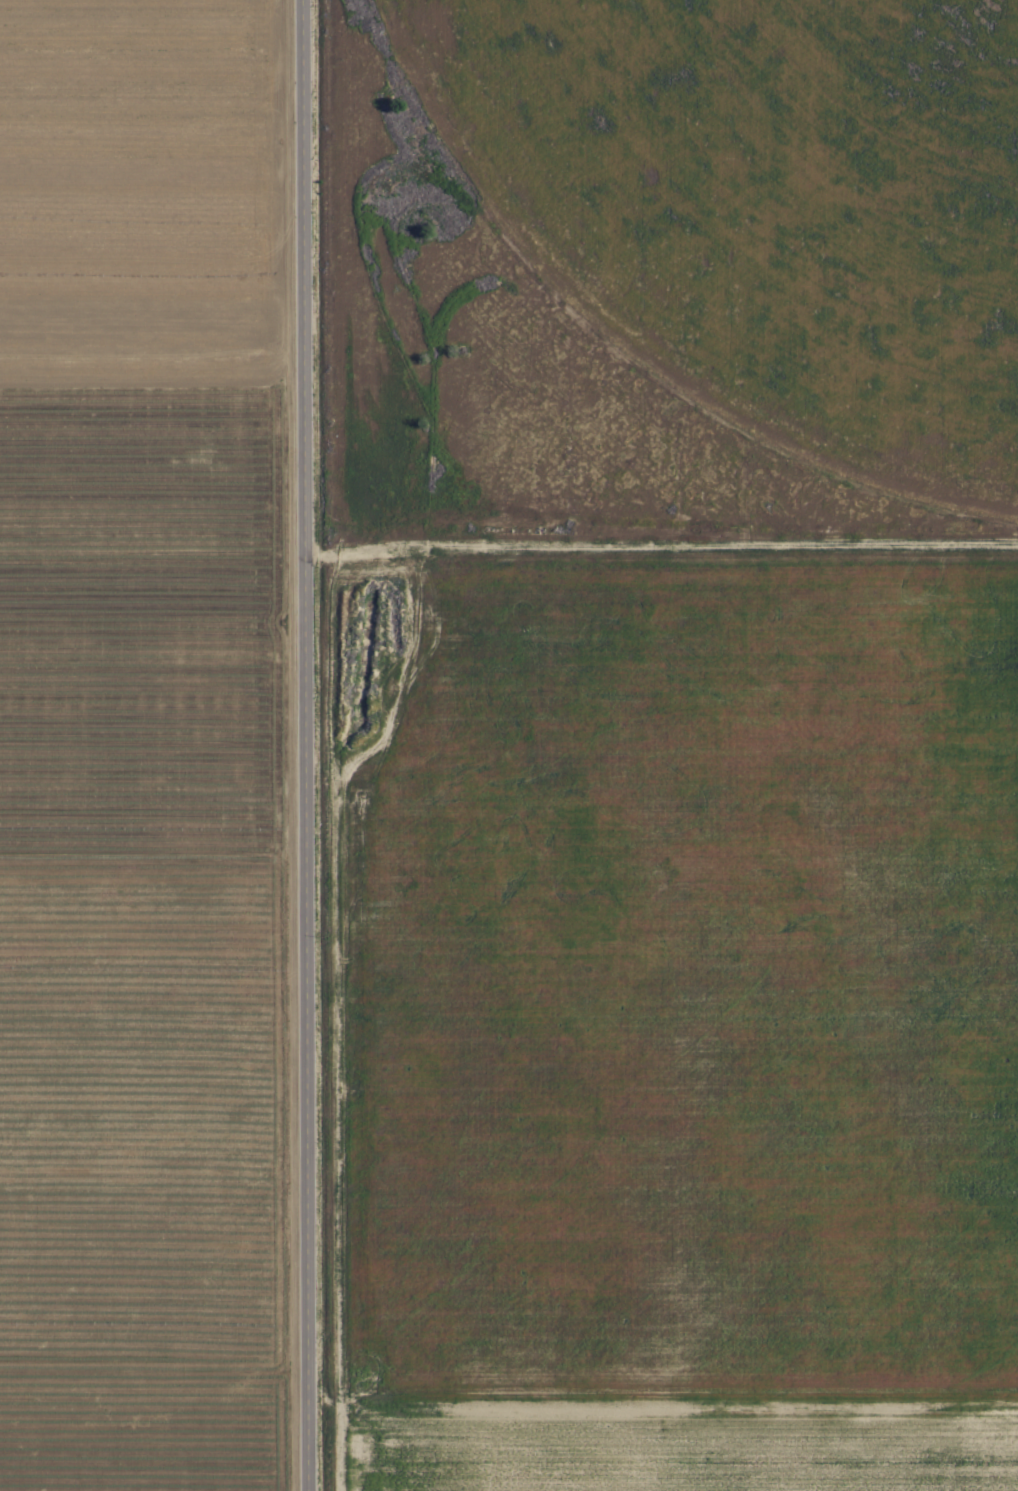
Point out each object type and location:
crop: (761, 207)
crop: (155, 745)
road: (306, 745)

